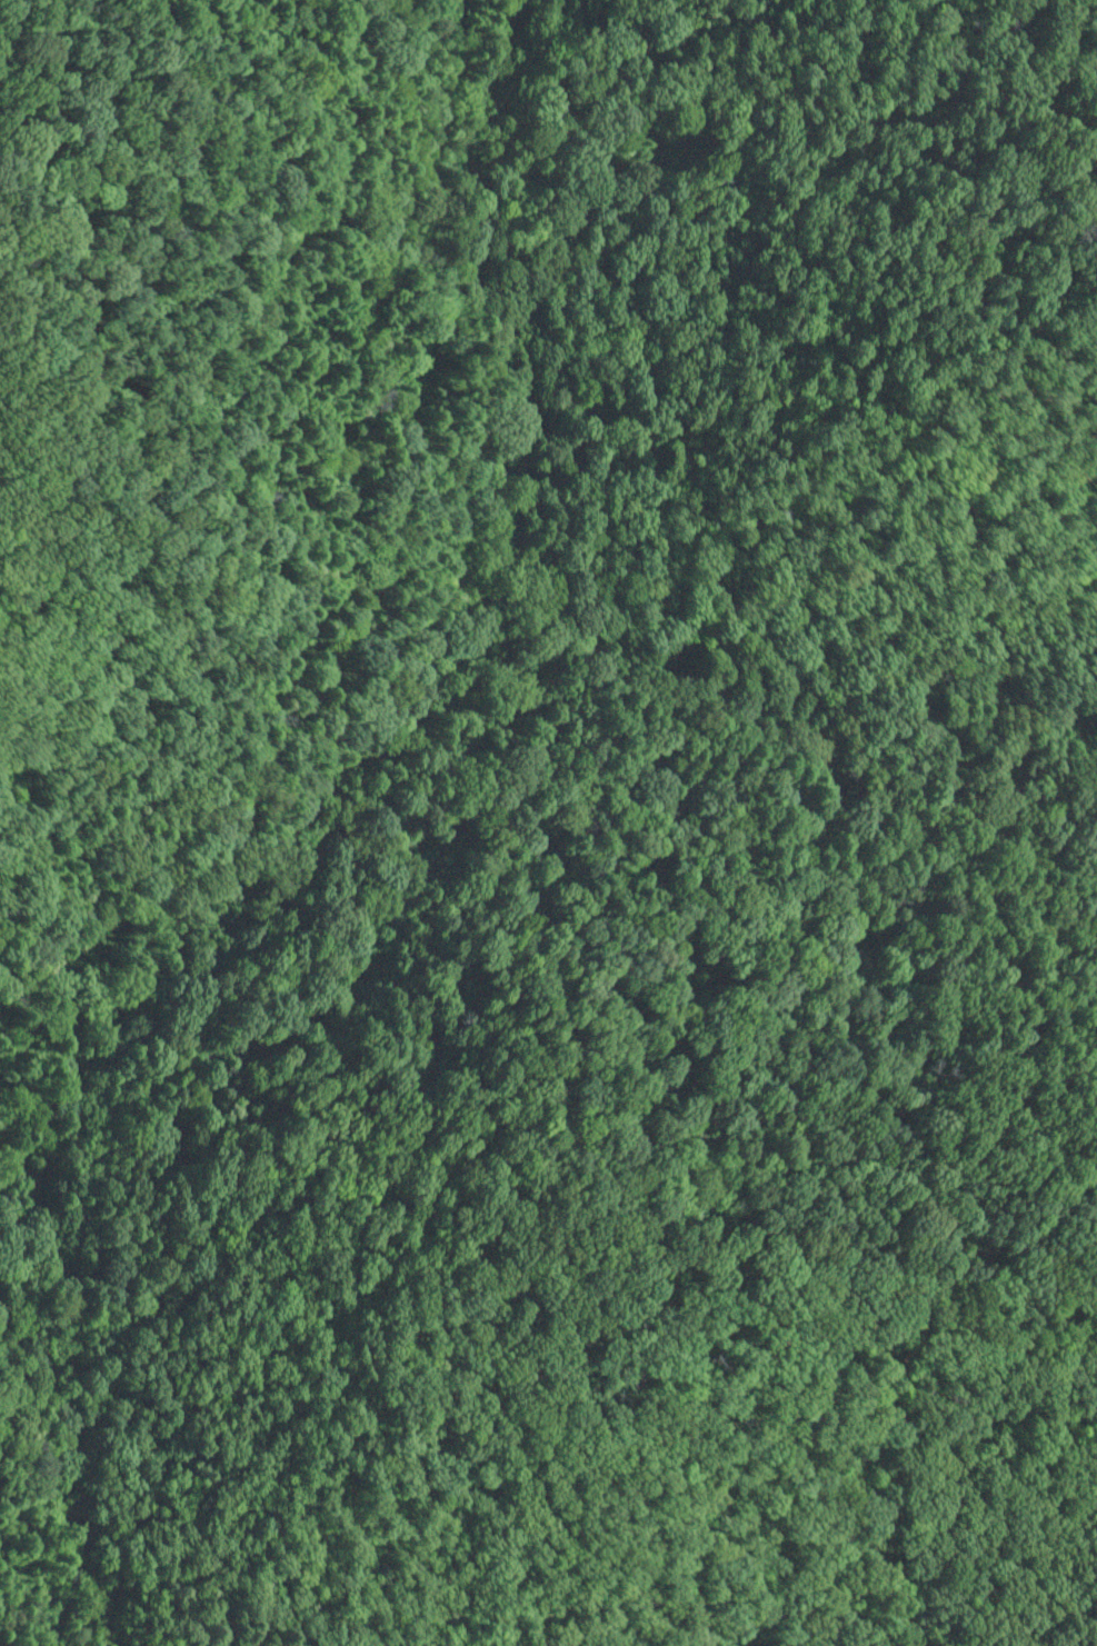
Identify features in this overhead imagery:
road: (340, 31)
road: (307, 632)

